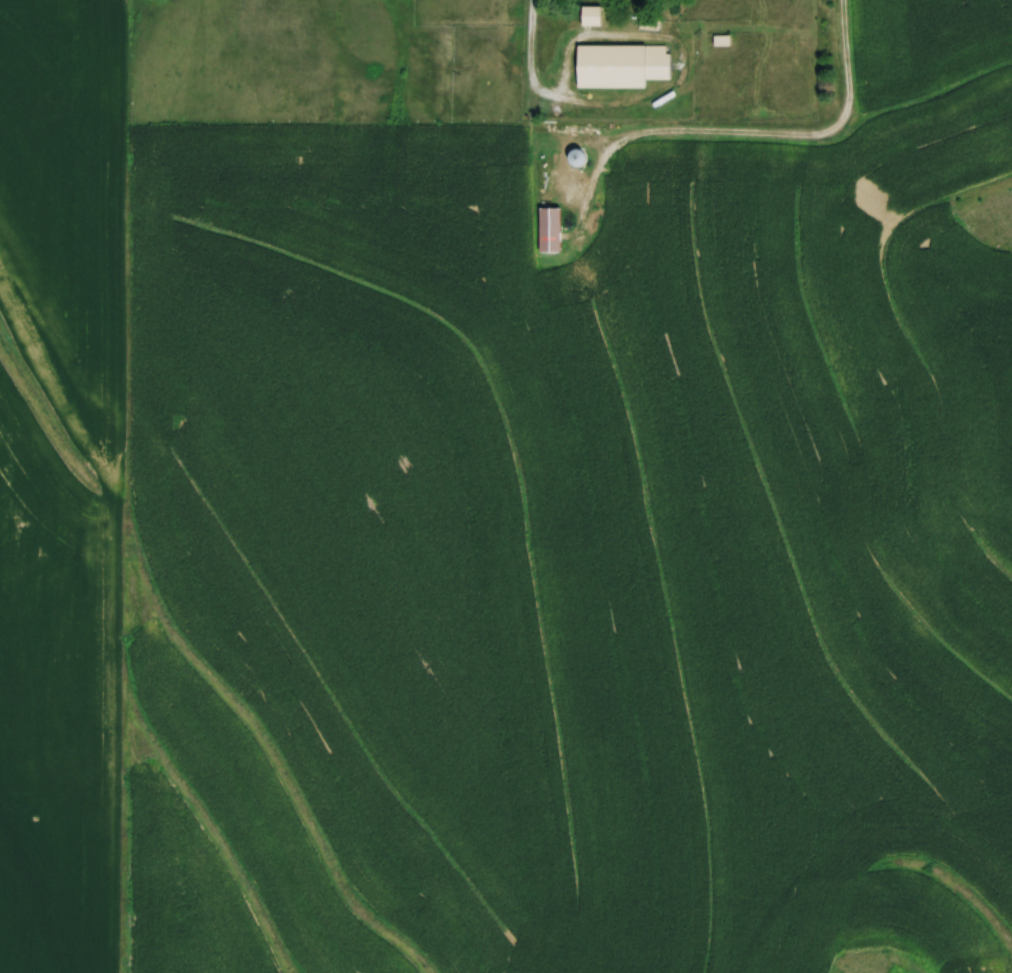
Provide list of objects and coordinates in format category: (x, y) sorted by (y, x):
building: (591, 16)
road: (532, 52)
building: (621, 65)
road: (665, 97)
road: (742, 135)
building: (570, 186)

